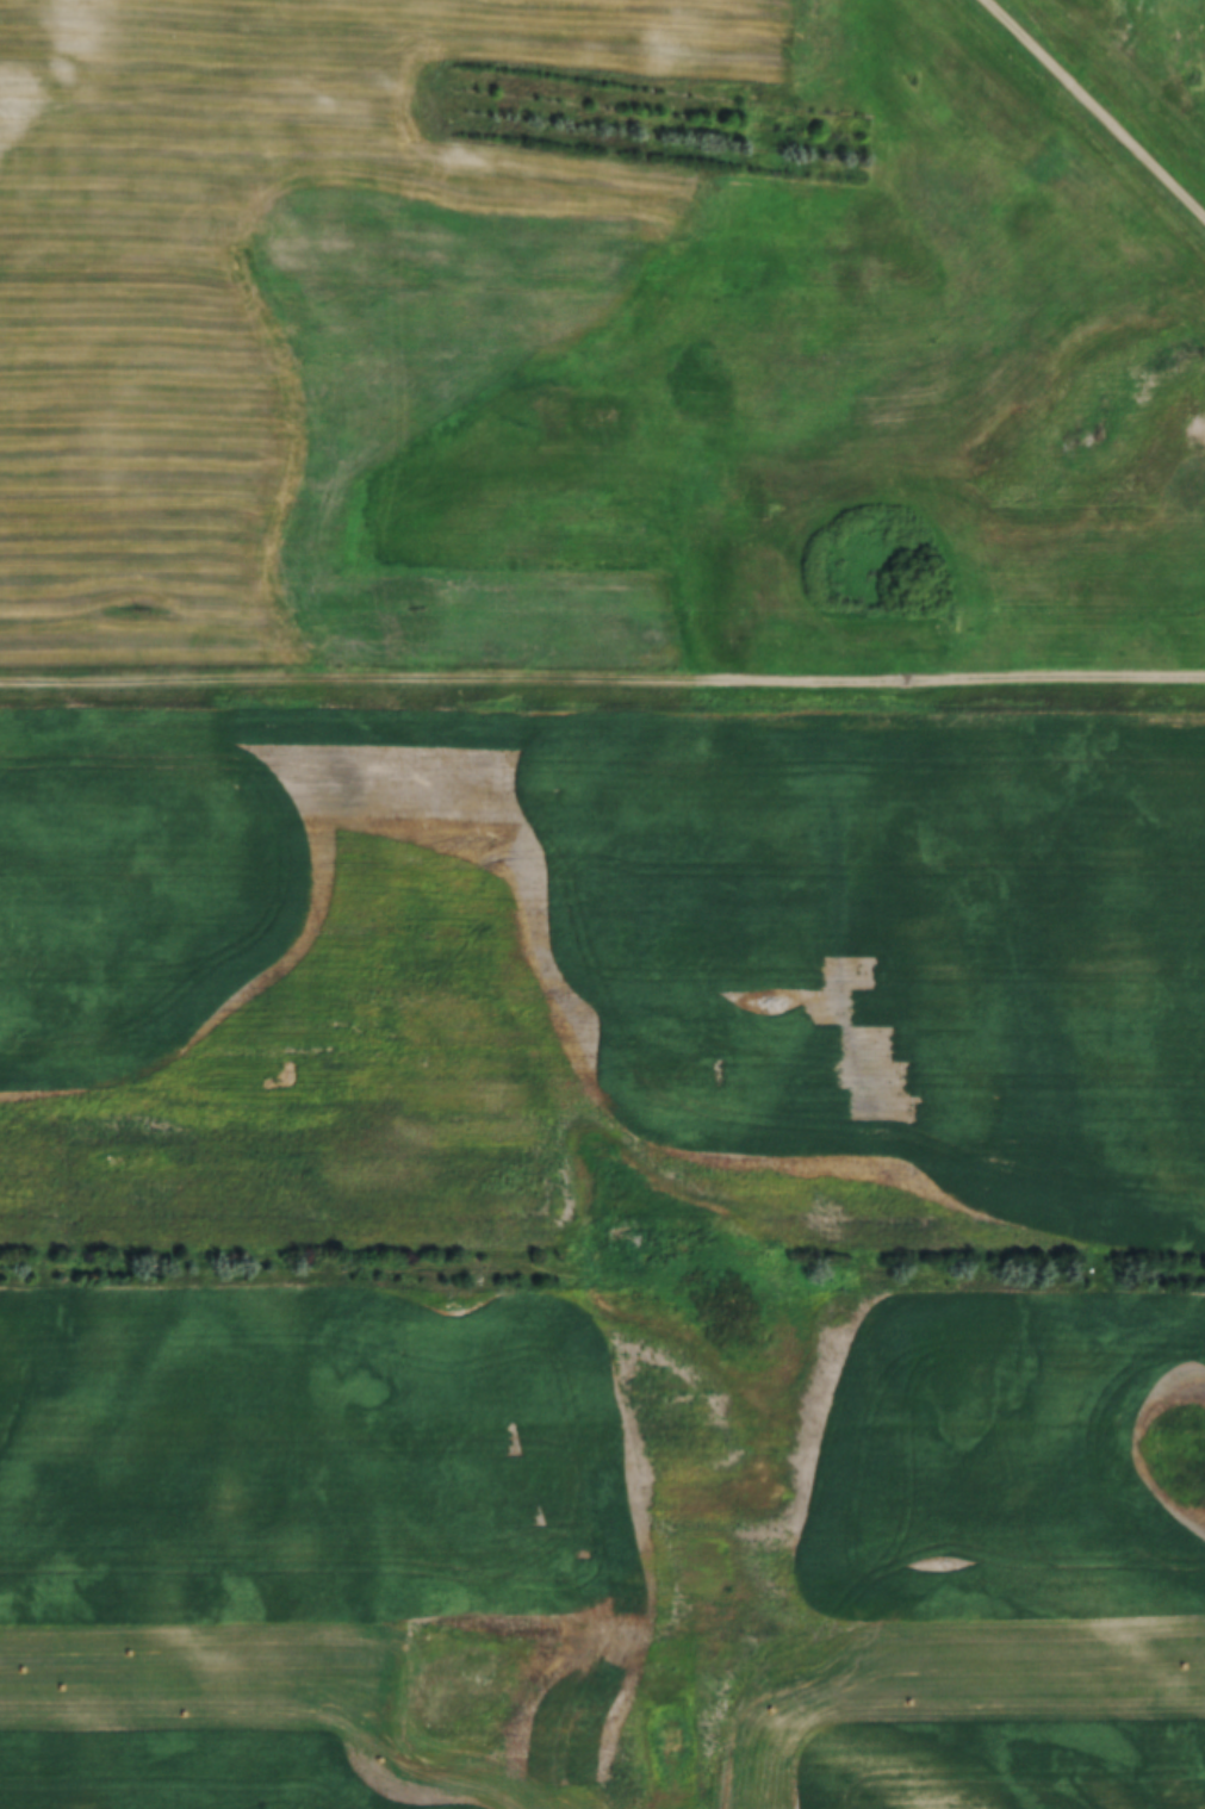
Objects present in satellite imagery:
road: (1091, 111)
road: (602, 677)

